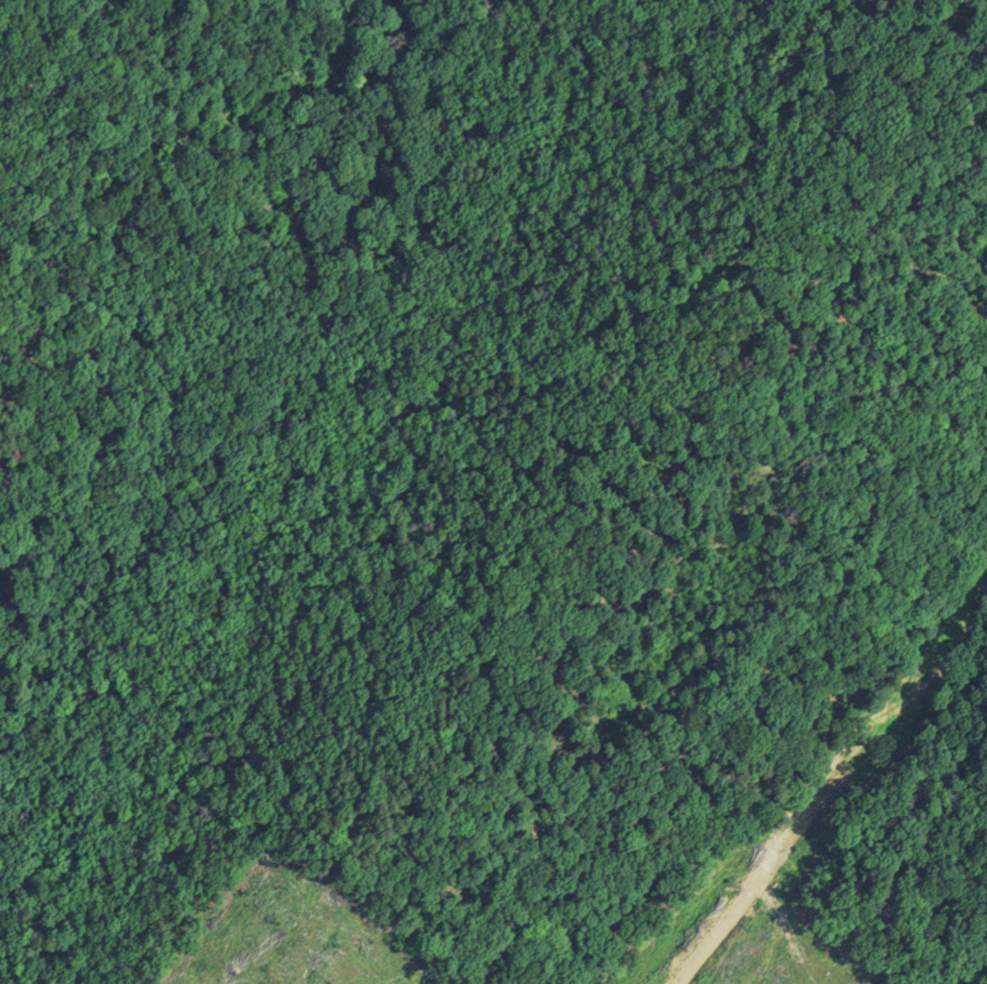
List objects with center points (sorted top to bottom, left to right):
road: (821, 771)

